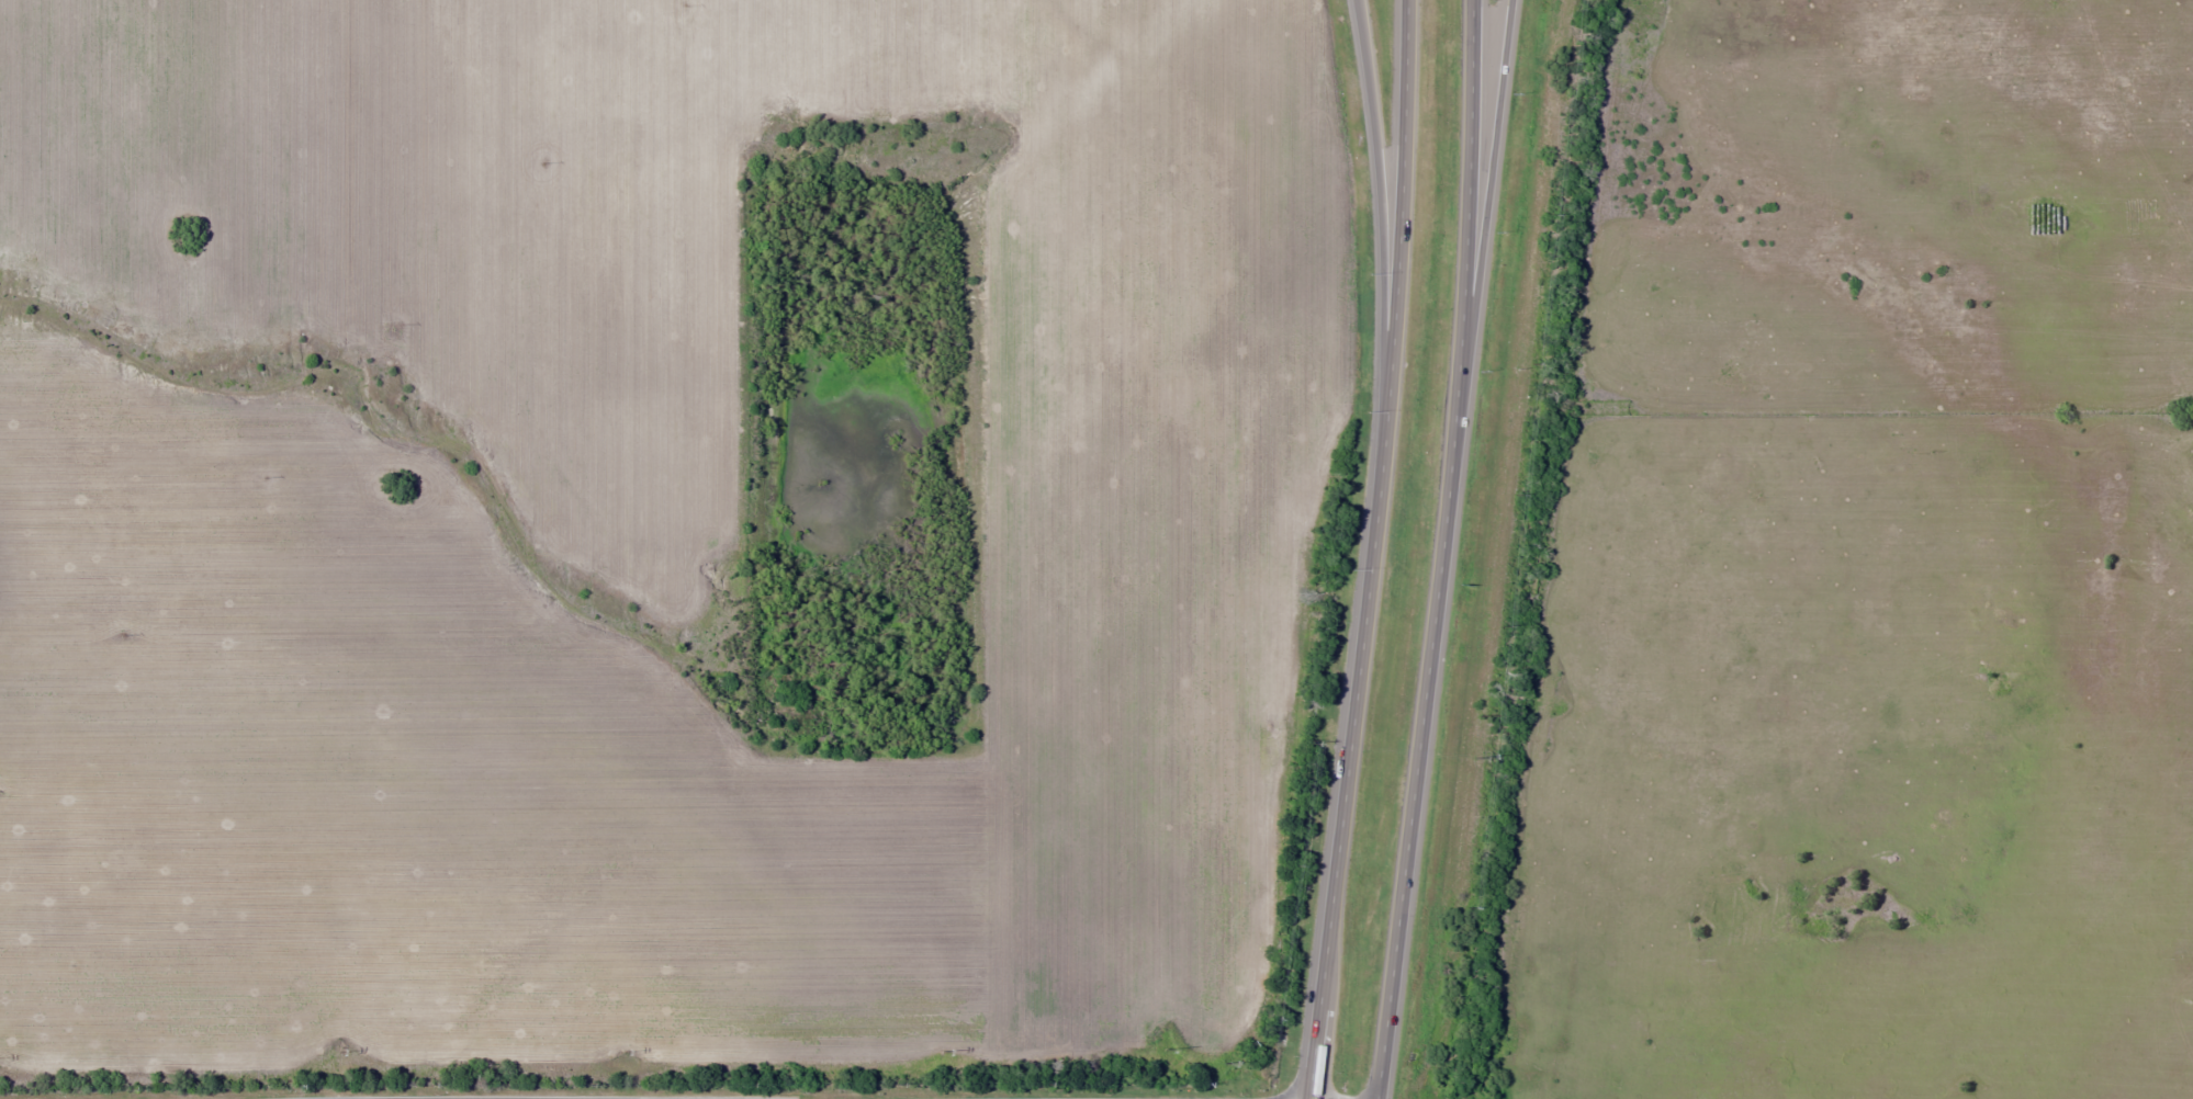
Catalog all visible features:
road: (1380, 197)
road: (1486, 202)
road: (1370, 549)
railway: (1505, 549)
road: (1441, 551)
power tower: (1165, 1049)
power tower: (338, 1050)
power tower: (943, 1050)
power tower: (625, 1052)

